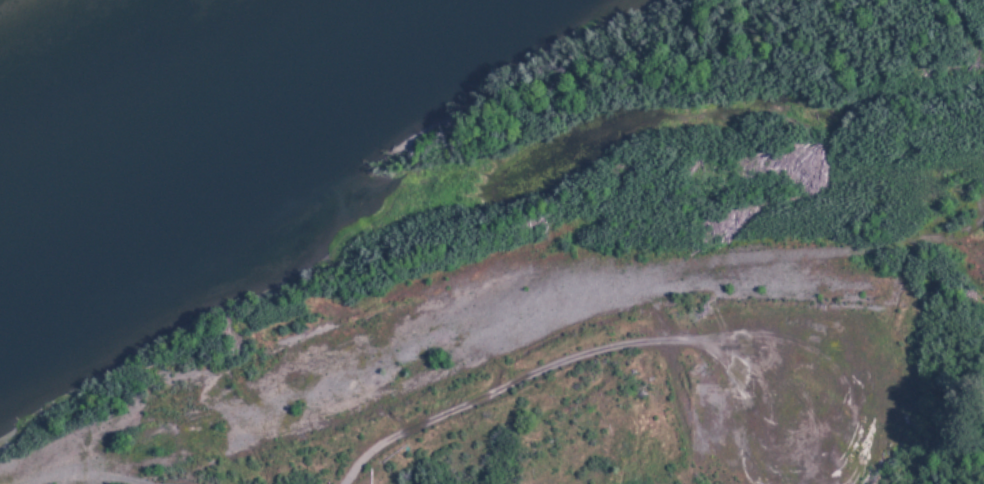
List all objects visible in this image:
river: (14, 7)

